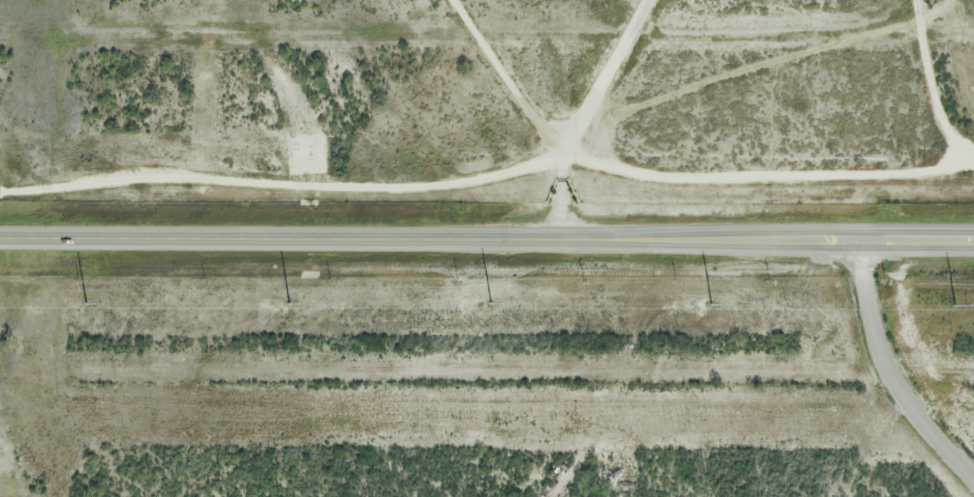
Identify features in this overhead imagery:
road: (581, 112)
road: (487, 238)
power tower: (86, 302)
power tower: (290, 302)
power tower: (491, 302)
power tower: (713, 303)
power tower: (954, 304)
road: (888, 372)

